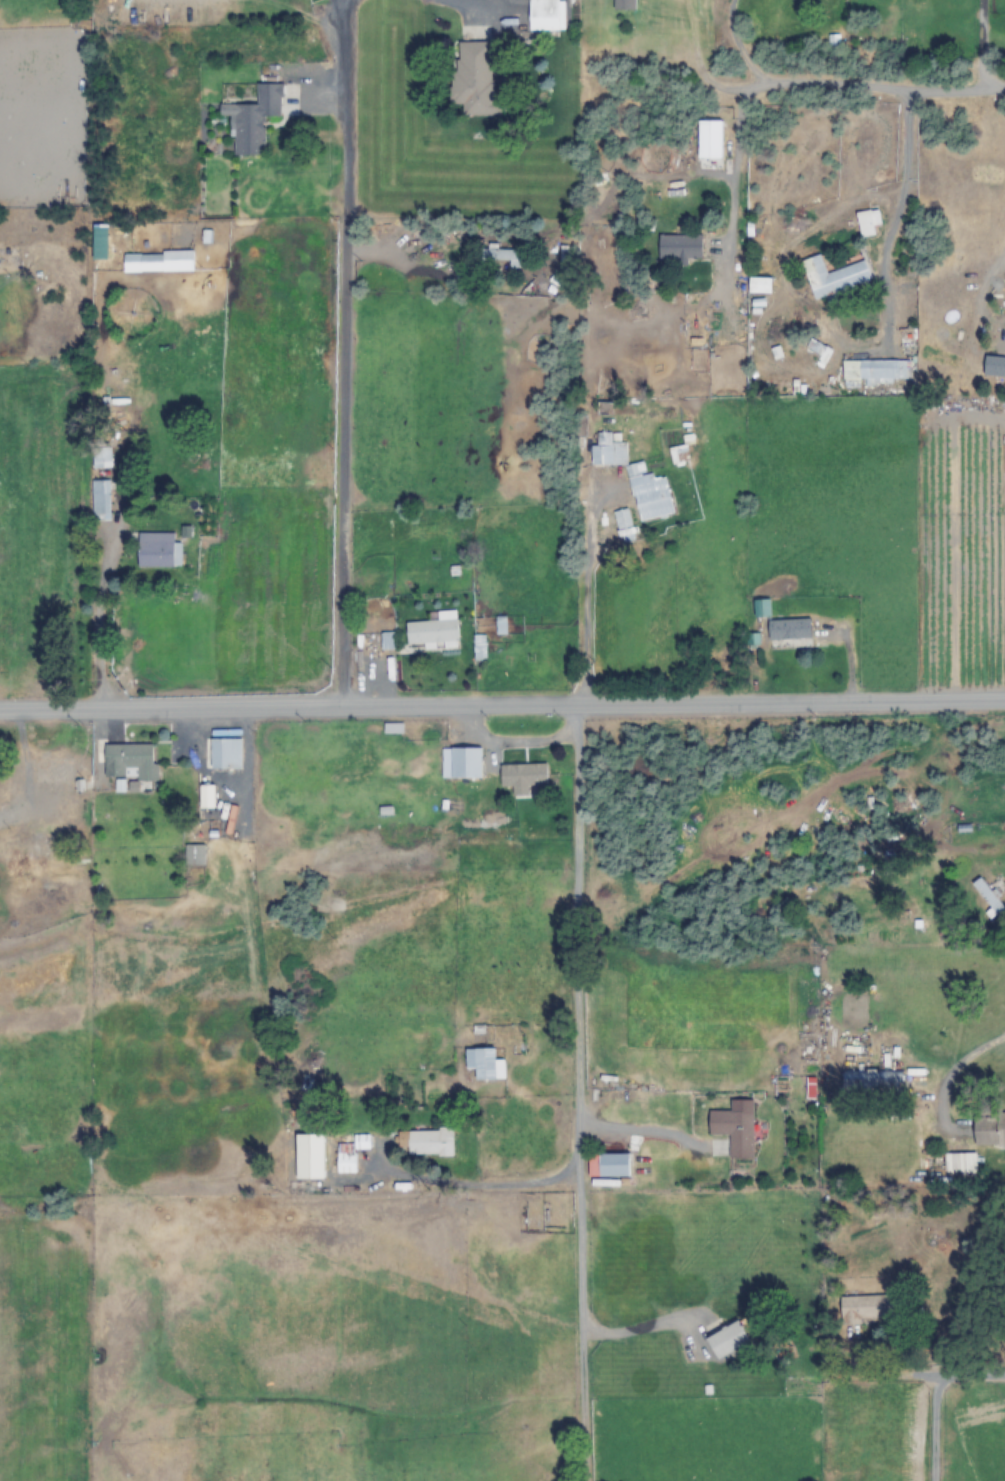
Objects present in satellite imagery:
building: (624, 4)
building: (544, 15)
building: (648, 46)
road: (983, 46)
building: (473, 79)
road: (834, 90)
road: (753, 92)
building: (253, 119)
building: (869, 222)
building: (510, 257)
building: (158, 261)
building: (834, 276)
road: (342, 357)
building: (994, 365)
building: (874, 370)
building: (679, 454)
building: (102, 456)
building: (101, 496)
building: (622, 518)
building: (156, 549)
road: (105, 622)
building: (789, 629)
building: (433, 630)
building: (384, 642)
road: (847, 670)
road: (502, 704)
building: (225, 754)
building: (130, 762)
building: (466, 762)
building: (55, 773)
building: (523, 777)
building: (2, 820)
building: (195, 855)
building: (484, 1064)
building: (873, 1085)
road: (578, 1092)
building: (989, 1129)
building: (734, 1131)
building: (428, 1141)
building: (351, 1153)
building: (959, 1161)
building: (608, 1164)
building: (864, 1309)
road: (637, 1328)
building: (729, 1339)
road: (922, 1377)
road: (935, 1429)

